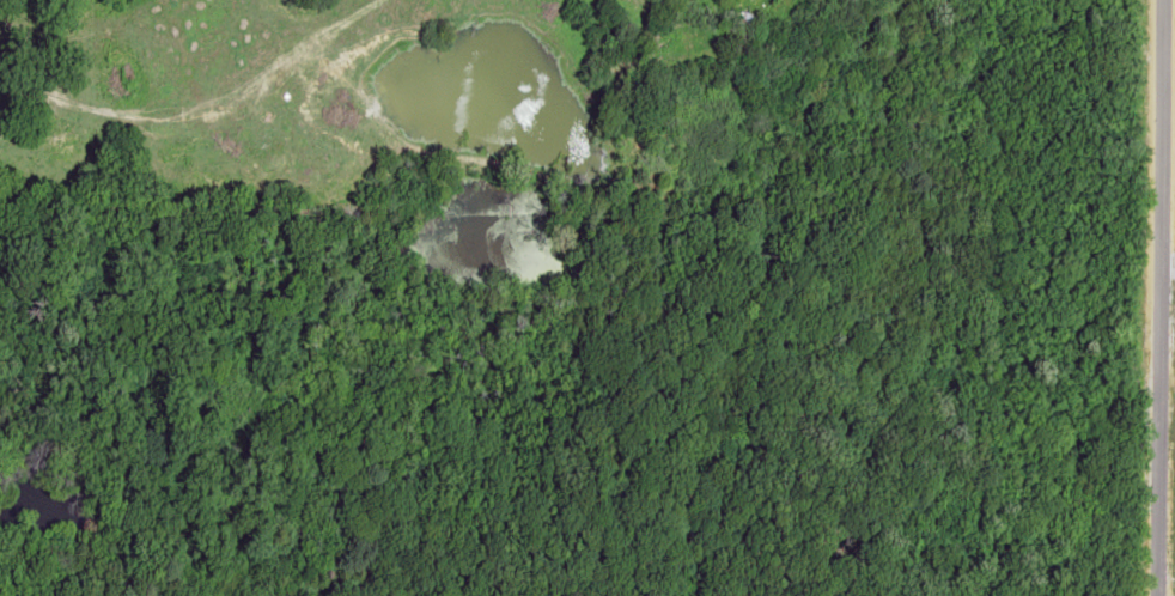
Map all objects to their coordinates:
building: (742, 34)
road: (1157, 297)

